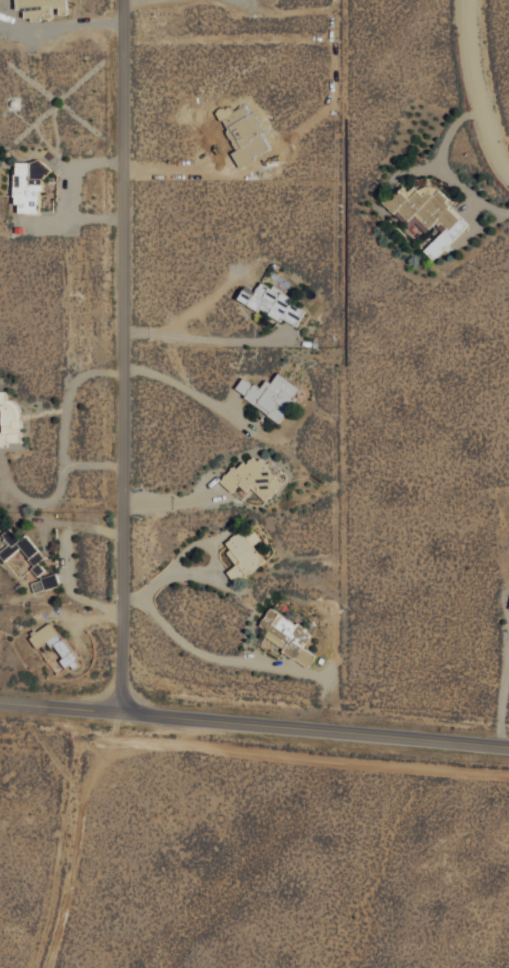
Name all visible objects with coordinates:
building: (39, 7)
road: (476, 87)
building: (25, 184)
building: (424, 215)
building: (270, 302)
road: (123, 355)
building: (267, 394)
building: (8, 420)
building: (249, 477)
building: (239, 555)
building: (508, 604)
building: (284, 635)
road: (58, 705)
road: (313, 728)
road: (80, 839)

